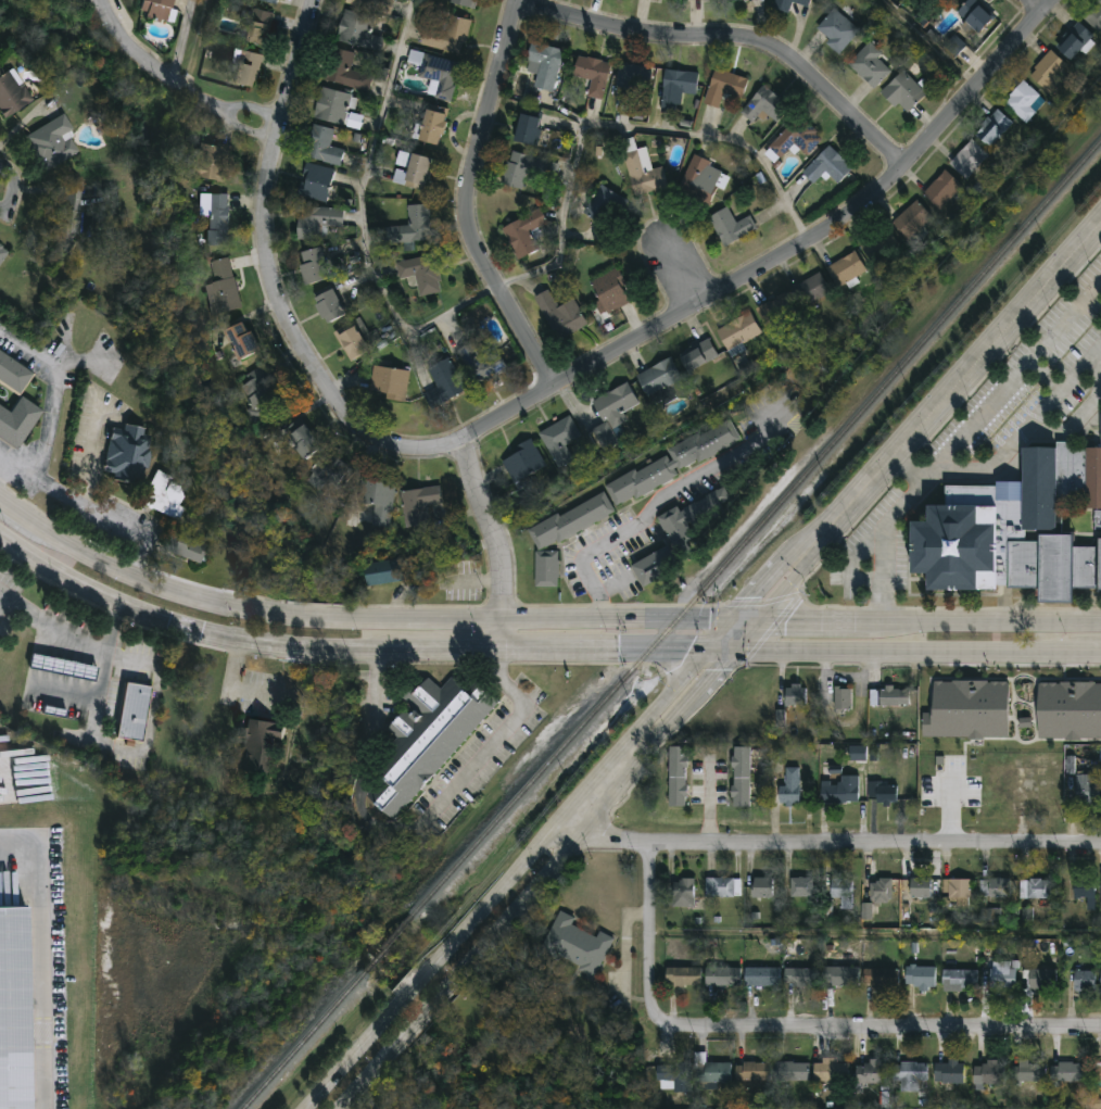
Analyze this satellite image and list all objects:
building: (275, 0)
building: (458, 1)
building: (803, 1)
road: (94, 2)
building: (369, 3)
building: (783, 4)
road: (1039, 5)
building: (151, 9)
building: (1093, 13)
building: (974, 14)
building: (257, 25)
building: (353, 26)
building: (838, 29)
building: (447, 34)
building: (1074, 39)
road: (184, 41)
road: (729, 45)
road: (922, 45)
road: (198, 46)
building: (954, 46)
building: (544, 63)
building: (871, 64)
building: (245, 67)
road: (155, 68)
building: (346, 70)
building: (1048, 70)
building: (593, 73)
building: (440, 74)
building: (634, 80)
building: (678, 85)
building: (724, 85)
building: (903, 91)
building: (9, 92)
building: (1025, 100)
building: (765, 103)
building: (332, 104)
building: (354, 121)
road: (266, 124)
building: (433, 125)
road: (271, 126)
building: (528, 127)
building: (994, 127)
building: (797, 137)
building: (49, 142)
building: (322, 144)
building: (972, 157)
building: (210, 161)
building: (828, 164)
building: (526, 167)
building: (413, 168)
building: (644, 174)
building: (700, 178)
building: (316, 180)
road: (7, 184)
building: (944, 190)
building: (604, 204)
building: (68, 214)
building: (217, 217)
building: (911, 217)
building: (317, 218)
building: (415, 223)
building: (732, 224)
building: (524, 231)
building: (879, 243)
building: (2, 252)
building: (313, 263)
building: (846, 267)
building: (420, 272)
road: (675, 275)
road: (510, 278)
building: (222, 286)
building: (810, 288)
building: (611, 290)
building: (329, 303)
building: (776, 311)
building: (561, 314)
building: (738, 329)
road: (650, 330)
road: (290, 331)
building: (241, 339)
building: (352, 339)
building: (698, 354)
building: (484, 358)
road: (1017, 368)
road: (970, 373)
building: (12, 375)
building: (659, 376)
building: (391, 381)
building: (445, 381)
road: (58, 388)
building: (260, 393)
building: (611, 413)
building: (16, 421)
road: (1028, 425)
building: (303, 439)
building: (559, 440)
building: (128, 453)
road: (89, 458)
building: (522, 461)
road: (9, 462)
building: (673, 463)
road: (908, 468)
building: (331, 472)
building: (165, 495)
building: (378, 499)
road: (658, 501)
building: (418, 503)
road: (13, 513)
road: (94, 514)
building: (691, 518)
building: (572, 521)
building: (1018, 530)
railway: (756, 531)
road: (886, 535)
road: (497, 545)
building: (188, 546)
building: (655, 566)
building: (547, 569)
building: (387, 570)
road: (801, 571)
traffic signals: (755, 597)
road: (52, 620)
road: (370, 620)
road: (745, 620)
traffic signals: (784, 623)
road: (818, 623)
road: (990, 625)
road: (191, 631)
road: (745, 635)
road: (557, 651)
traffic signals: (686, 651)
road: (722, 651)
road: (901, 651)
road: (1085, 652)
building: (63, 667)
road: (716, 671)
traffic signals: (717, 671)
building: (795, 696)
building: (894, 698)
building: (934, 700)
building: (843, 701)
building: (1086, 701)
building: (1038, 709)
building: (131, 713)
road: (505, 733)
building: (426, 740)
road: (628, 742)
building: (257, 746)
road: (130, 749)
building: (859, 753)
building: (678, 778)
building: (741, 778)
road: (362, 779)
building: (789, 789)
building: (1087, 790)
building: (838, 792)
building: (882, 794)
road: (709, 803)
road: (571, 841)
road: (827, 843)
building: (723, 889)
building: (802, 889)
building: (921, 889)
building: (996, 889)
building: (764, 890)
building: (1035, 890)
building: (1084, 890)
building: (957, 891)
building: (844, 892)
building: (881, 892)
building: (684, 894)
building: (866, 911)
building: (991, 915)
road: (650, 920)
railway: (387, 944)
building: (575, 944)
road: (41, 955)
building: (682, 978)
building: (721, 978)
building: (762, 978)
building: (841, 978)
building: (1001, 978)
building: (801, 979)
building: (881, 979)
building: (920, 979)
building: (958, 980)
building: (1041, 982)
building: (1084, 982)
road: (414, 987)
road: (435, 1006)
building: (15, 1007)
road: (862, 1031)
railway: (303, 1038)
road: (354, 1055)
road: (382, 1064)
building: (711, 1071)
building: (751, 1072)
building: (792, 1072)
building: (1029, 1072)
building: (831, 1073)
building: (871, 1073)
building: (949, 1073)
building: (1067, 1073)
building: (988, 1074)
building: (673, 1076)
building: (910, 1076)
building: (1097, 1078)

